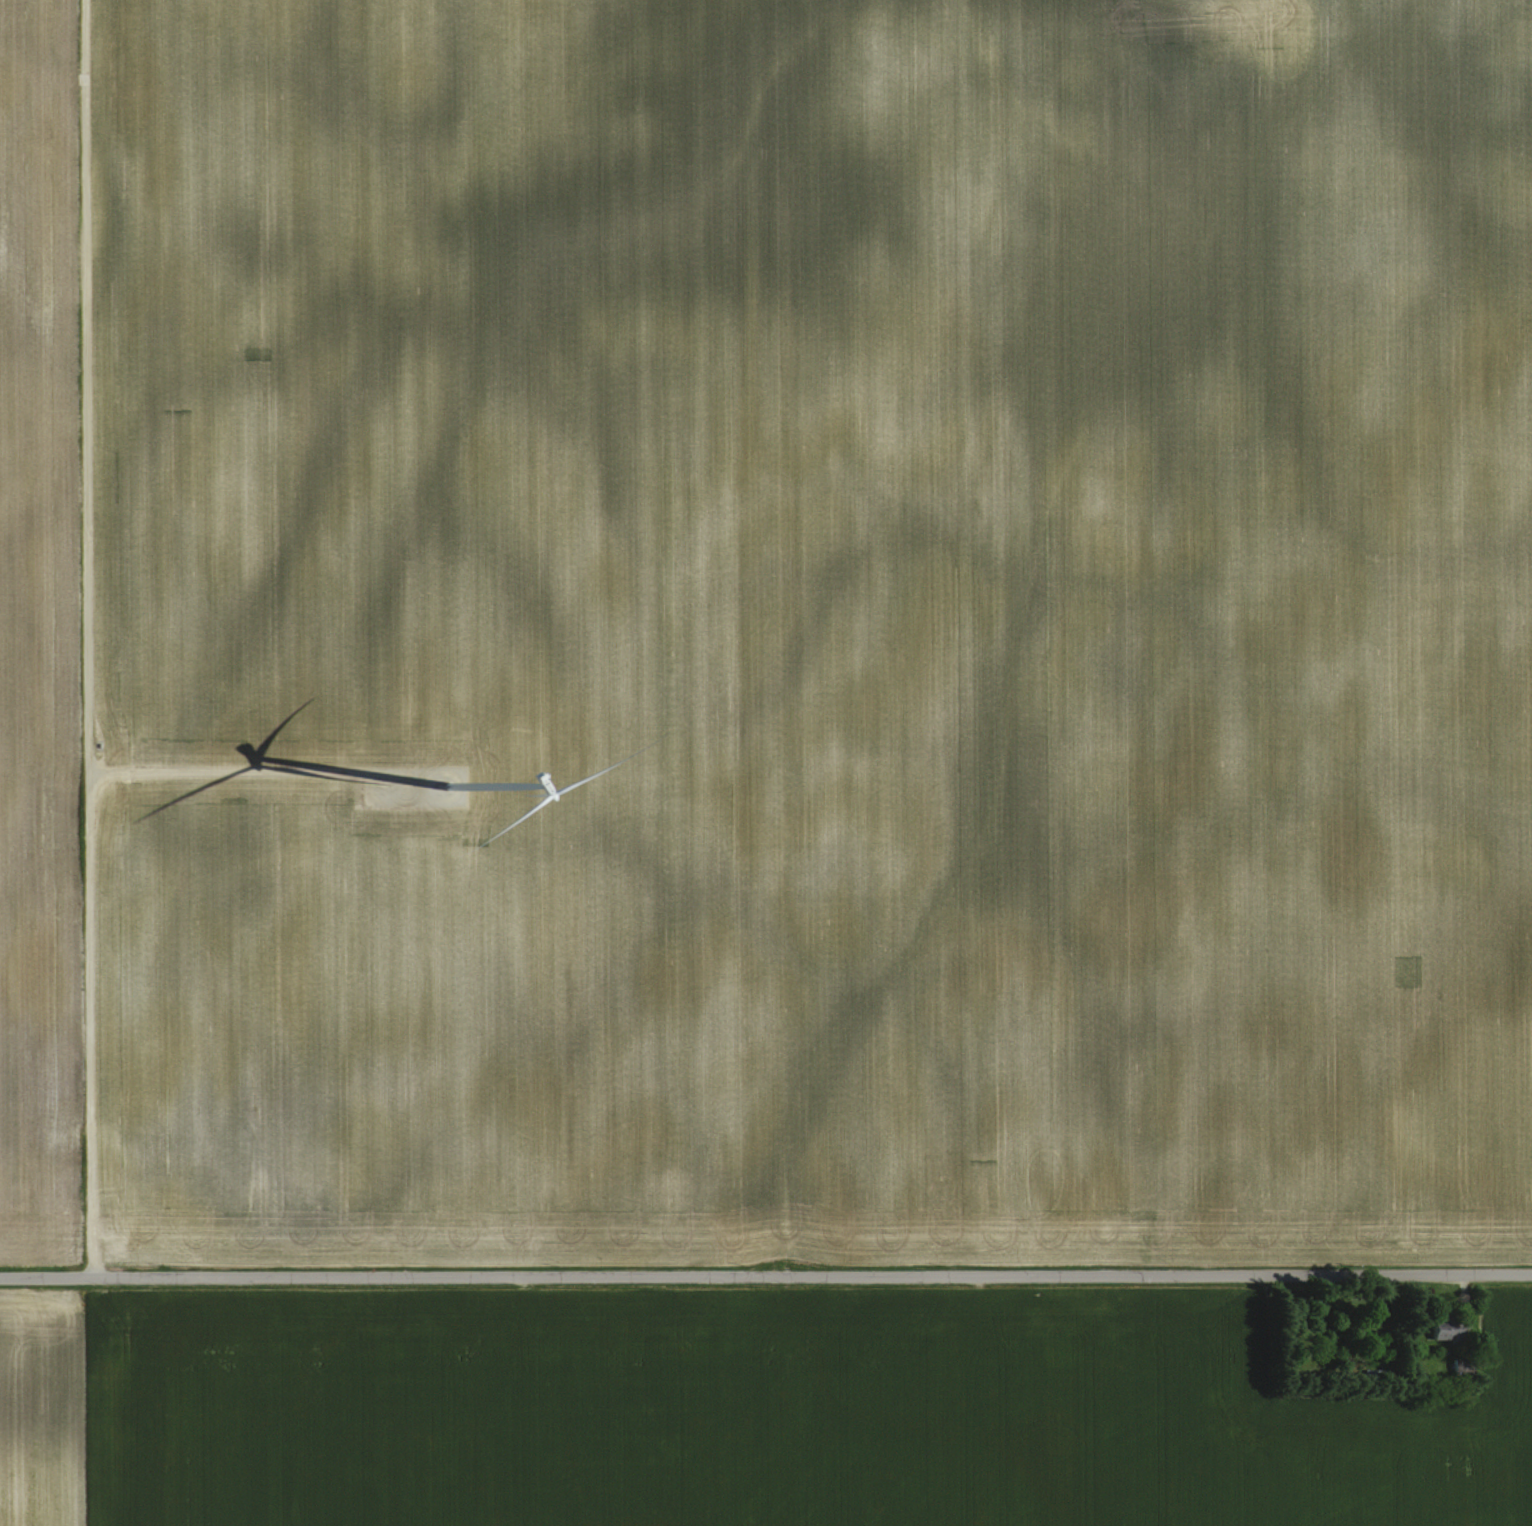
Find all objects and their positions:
wind turbine: (446, 784)
road: (765, 1275)
building: (1435, 1328)

